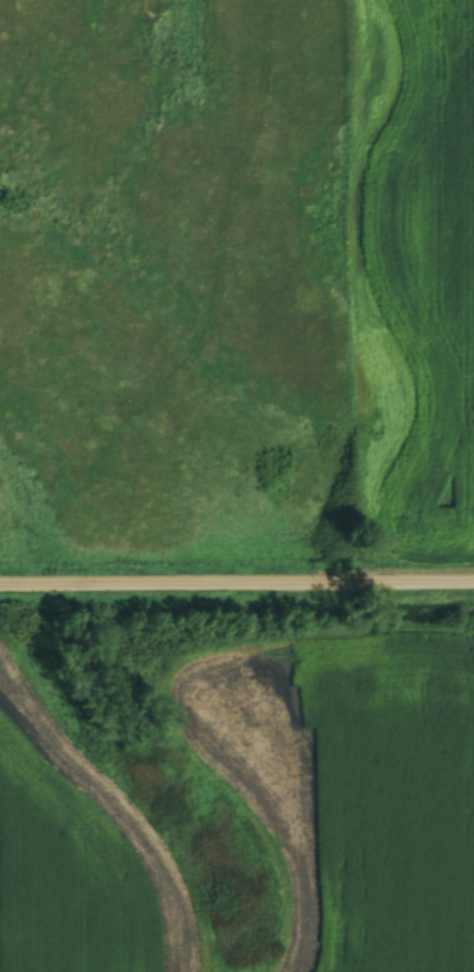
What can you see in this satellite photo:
road: (237, 580)

